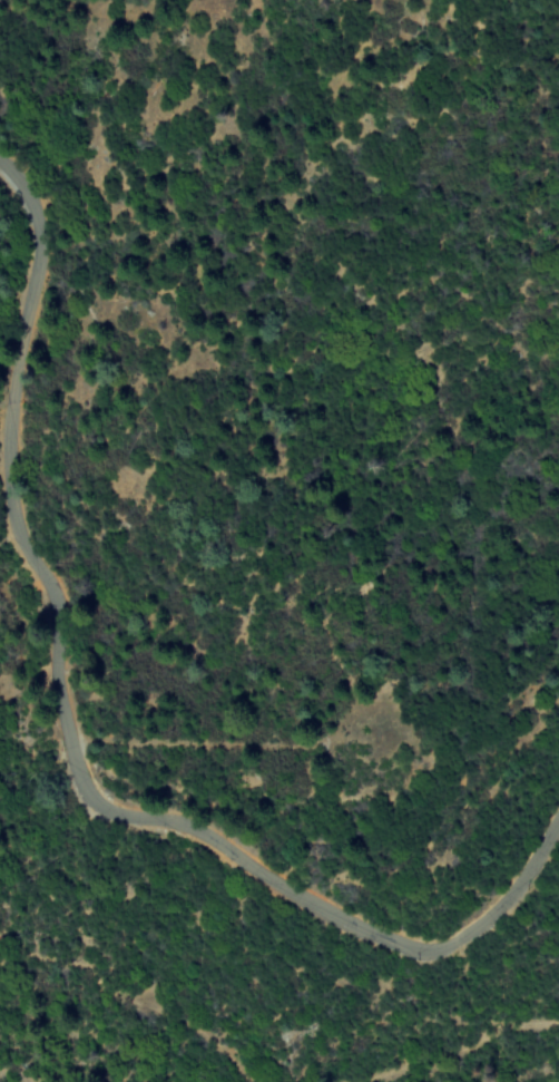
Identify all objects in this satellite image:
road: (70, 751)

